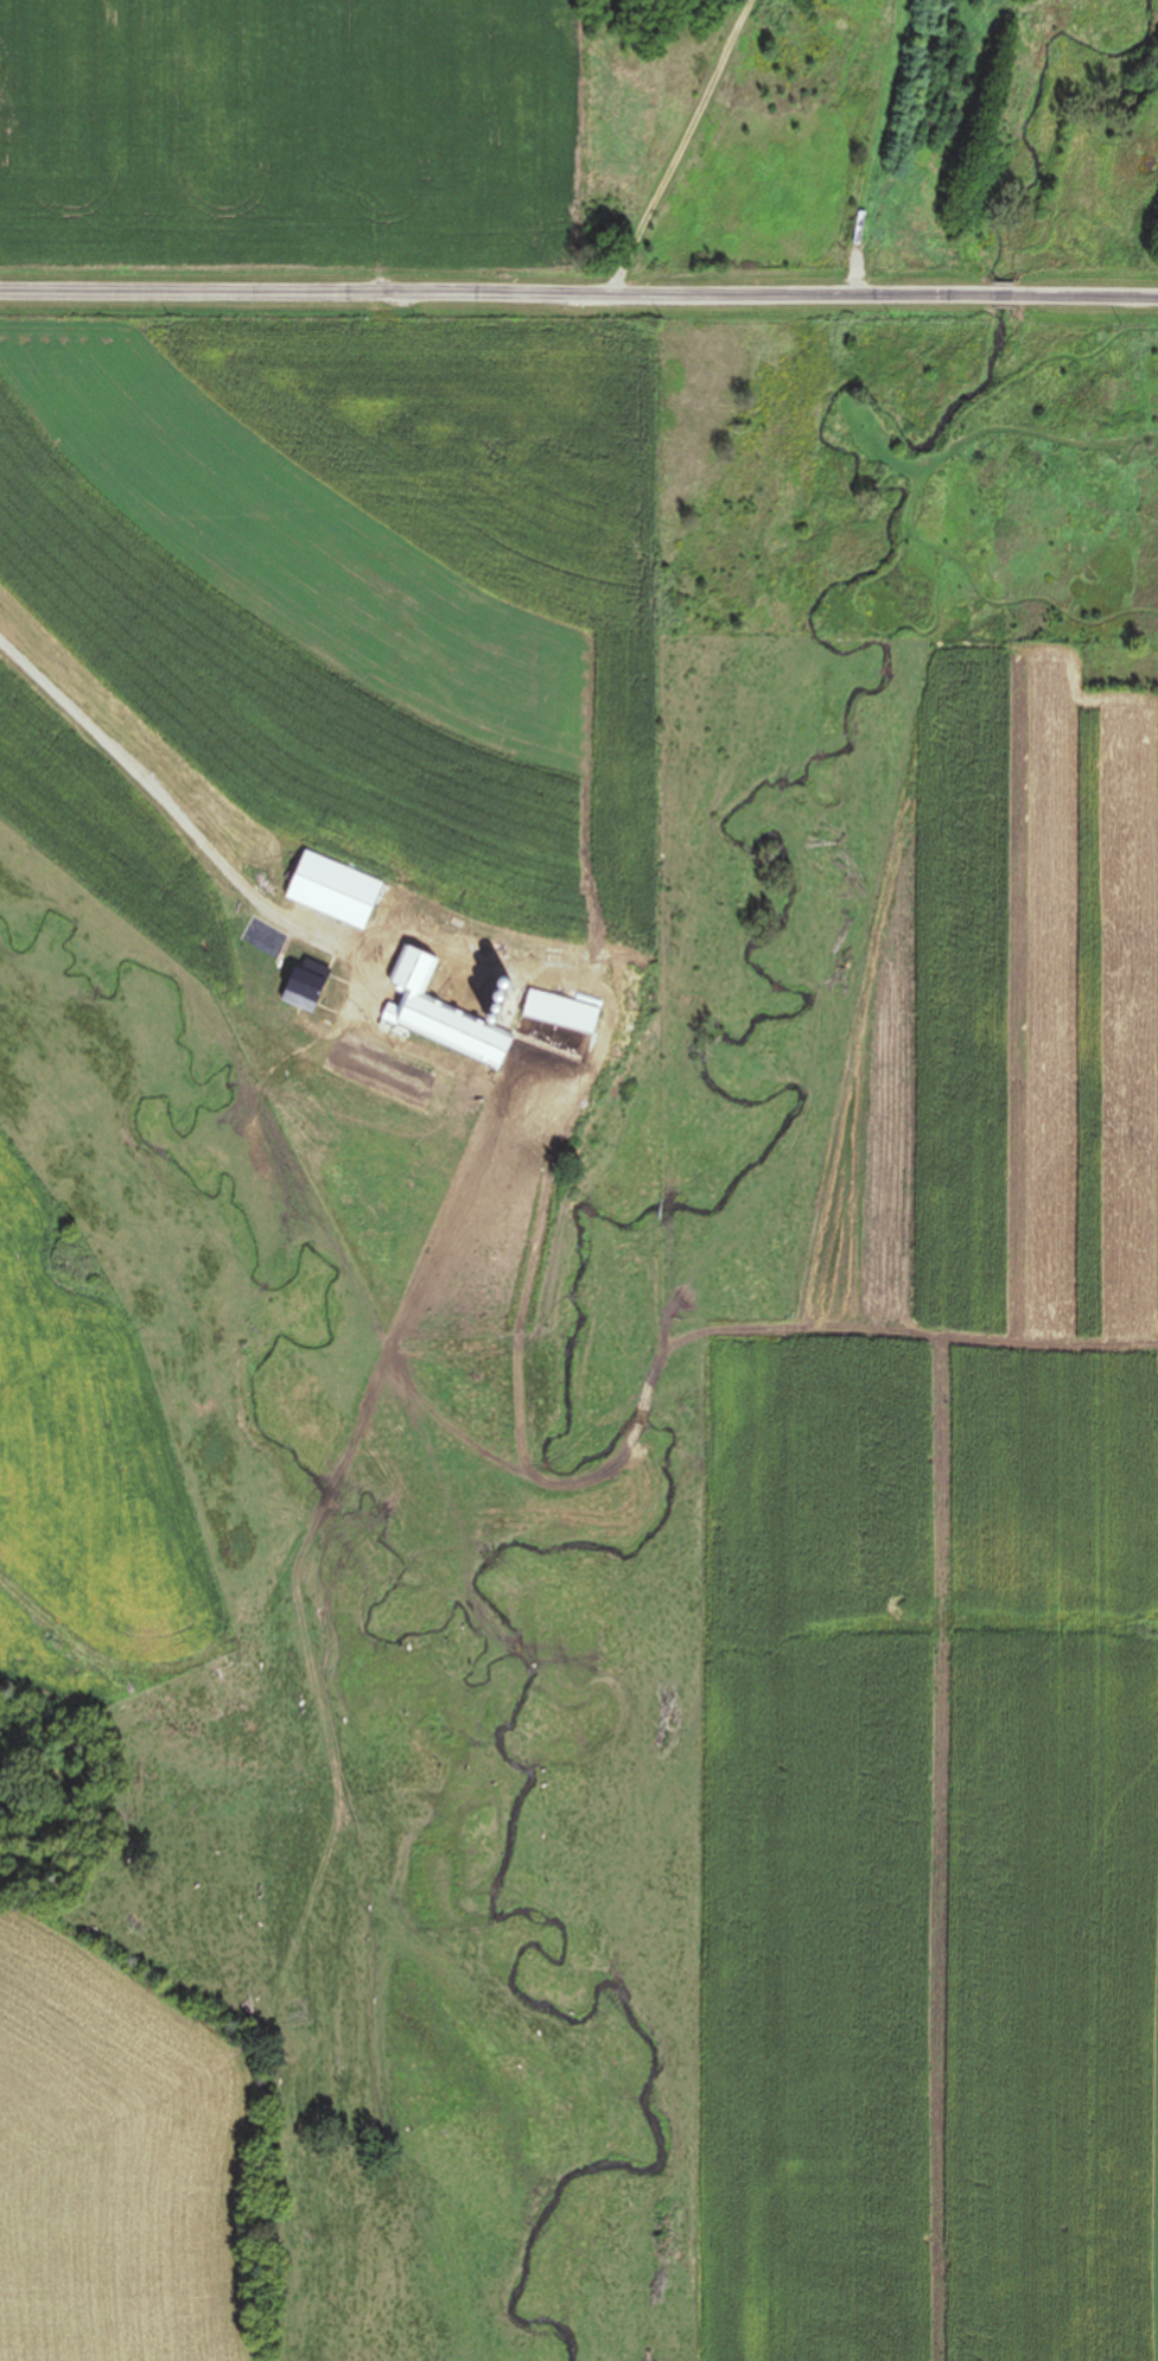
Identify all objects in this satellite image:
road: (662, 151)
road: (579, 300)

